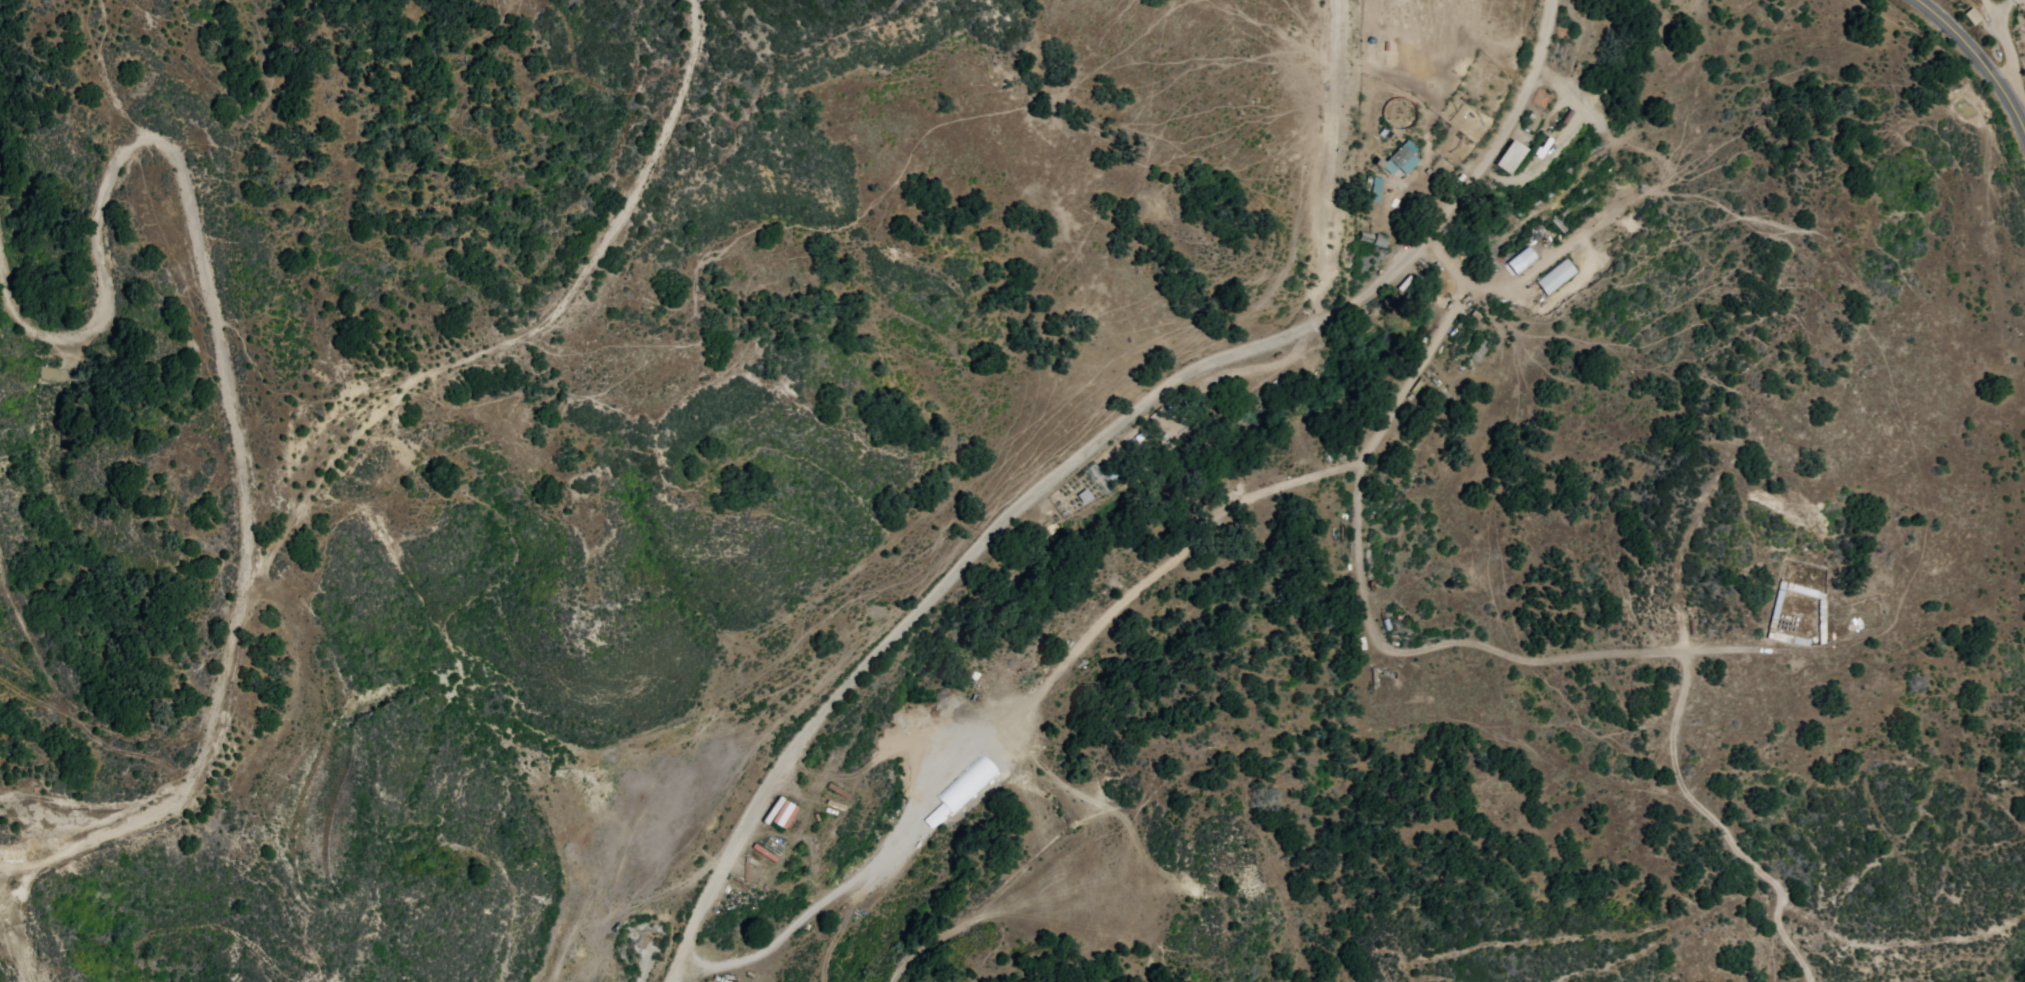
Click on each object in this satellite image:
road: (1980, 54)
building: (1530, 122)
building: (1510, 157)
building: (1400, 159)
road: (179, 163)
building: (1375, 190)
building: (1372, 239)
building: (1524, 257)
building: (1556, 276)
building: (1477, 350)
road: (384, 370)
road: (1084, 452)
building: (1083, 495)
road: (75, 693)
road: (42, 695)
road: (209, 722)
building: (965, 783)
road: (254, 784)
building: (779, 812)
road: (502, 894)
road: (1011, 915)
road: (692, 968)

